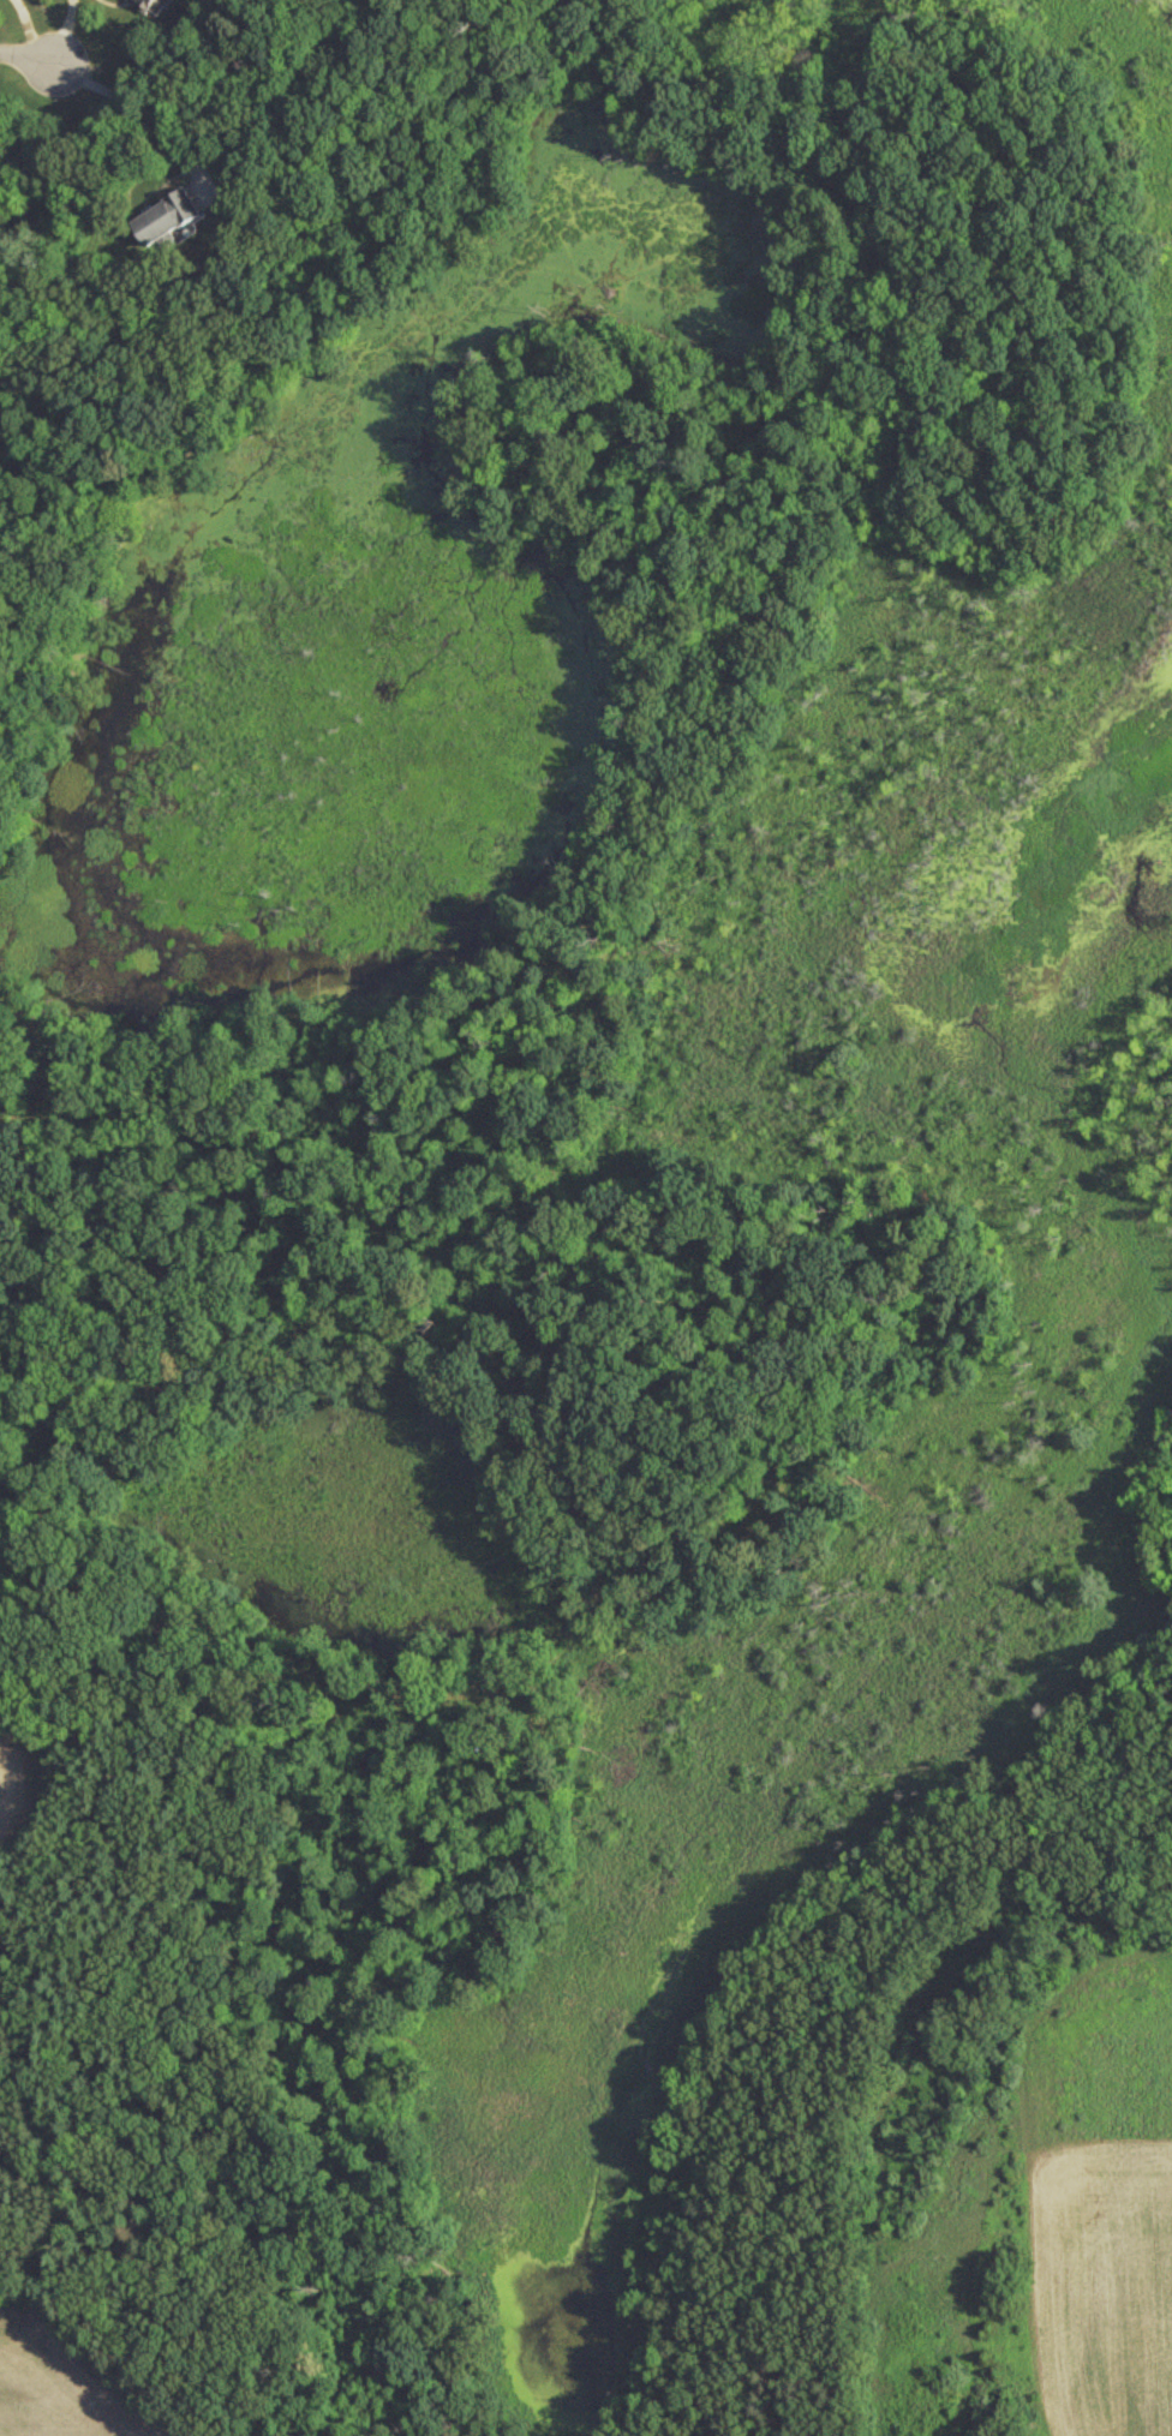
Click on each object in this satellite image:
building: (151, 5)
road: (25, 28)
road: (31, 56)
road: (144, 115)
building: (167, 216)

